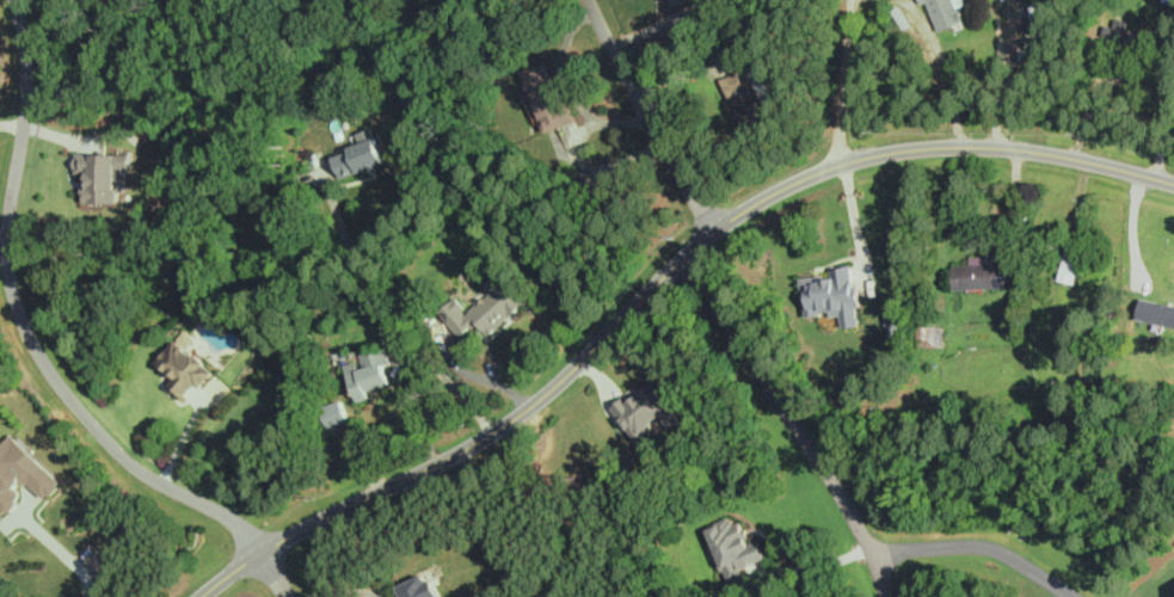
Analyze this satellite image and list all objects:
building: (671, 1)
building: (1173, 1)
building: (945, 13)
building: (1130, 36)
road: (1002, 79)
road: (849, 81)
road: (953, 88)
building: (547, 97)
building: (746, 100)
road: (647, 117)
road: (12, 123)
building: (361, 159)
building: (105, 173)
road: (853, 213)
road: (1133, 230)
road: (4, 235)
building: (1071, 265)
building: (983, 275)
road: (658, 284)
building: (834, 293)
road: (401, 309)
building: (484, 312)
building: (1155, 312)
road: (25, 328)
building: (932, 336)
building: (184, 368)
building: (369, 373)
building: (650, 411)
building: (337, 414)
road: (793, 425)
building: (21, 475)
road: (982, 547)
building: (734, 548)
road: (63, 550)
road: (816, 565)
road: (271, 573)
building: (419, 587)
road: (350, 592)

